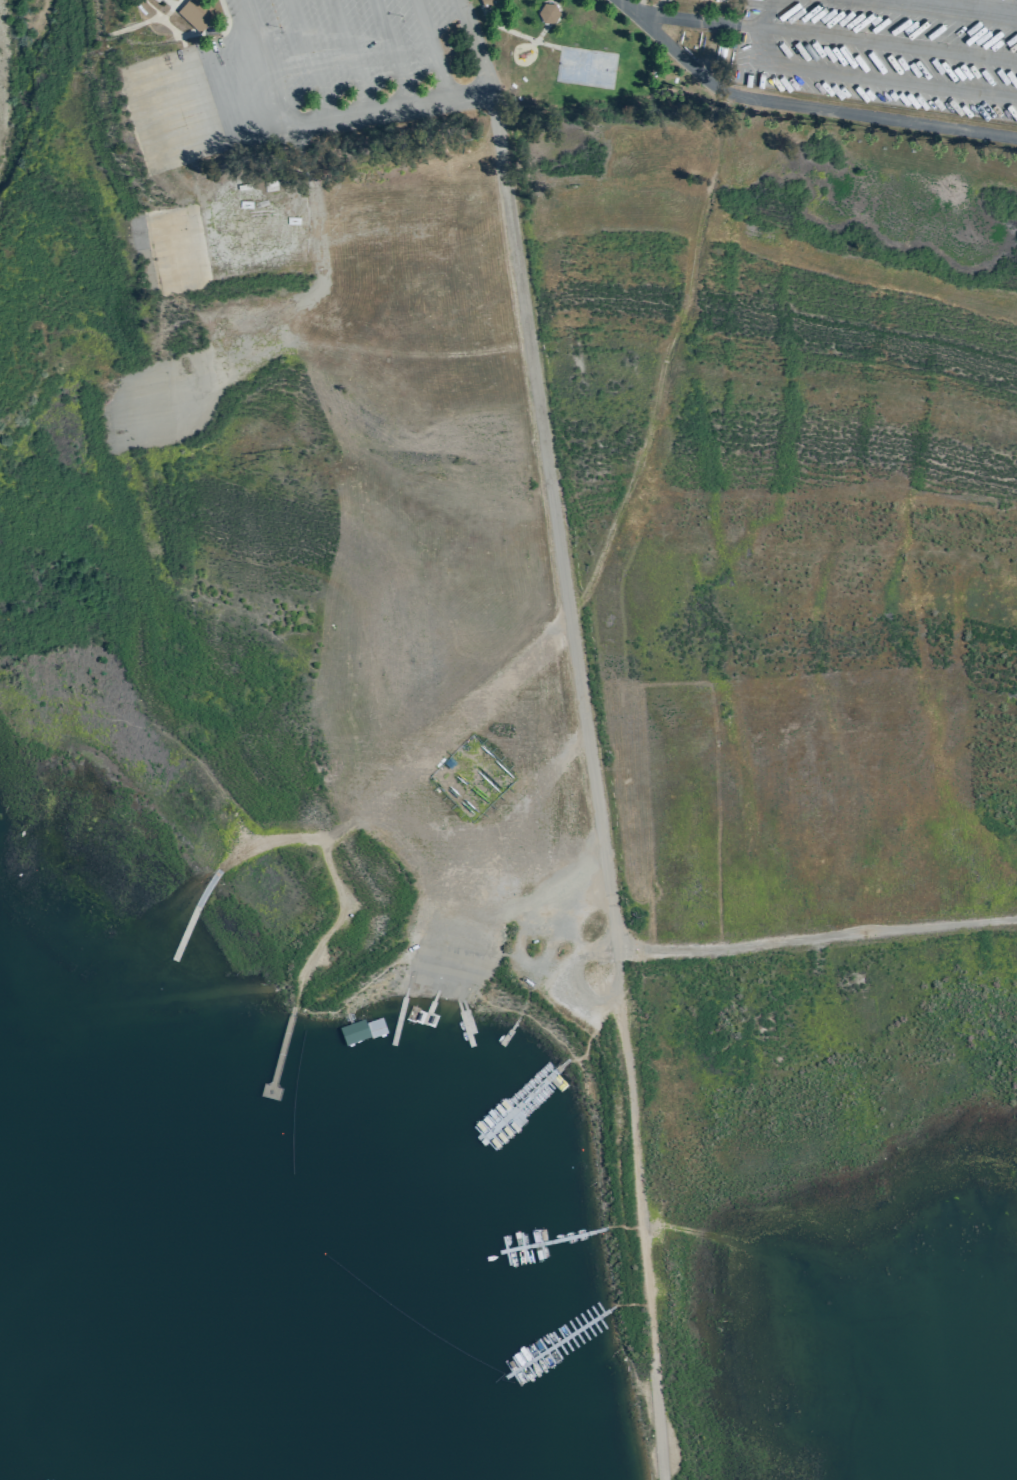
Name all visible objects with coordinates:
building: (487, 3)
road: (479, 5)
road: (633, 8)
building: (195, 12)
building: (547, 13)
road: (163, 16)
road: (225, 21)
road: (693, 23)
road: (507, 30)
road: (541, 32)
road: (429, 52)
parking lot: (885, 52)
road: (391, 55)
road: (347, 58)
road: (303, 61)
parking lot: (358, 61)
park: (585, 68)
road: (233, 94)
road: (816, 108)
road: (170, 115)
road: (366, 116)
road: (261, 227)
road: (166, 254)
road: (319, 261)
road: (347, 349)
road: (667, 354)
road: (147, 408)
park: (549, 590)
road: (592, 787)
road: (388, 792)
parking lot: (507, 832)
road: (525, 904)
road: (817, 937)
pier: (153, 944)
road: (424, 975)
road: (460, 978)
pier: (398, 1017)
pier: (429, 1020)
pier: (511, 1030)
road: (587, 1039)
pier: (274, 1066)
pier: (490, 1110)
pier: (528, 1254)
road: (617, 1304)
pier: (532, 1322)

